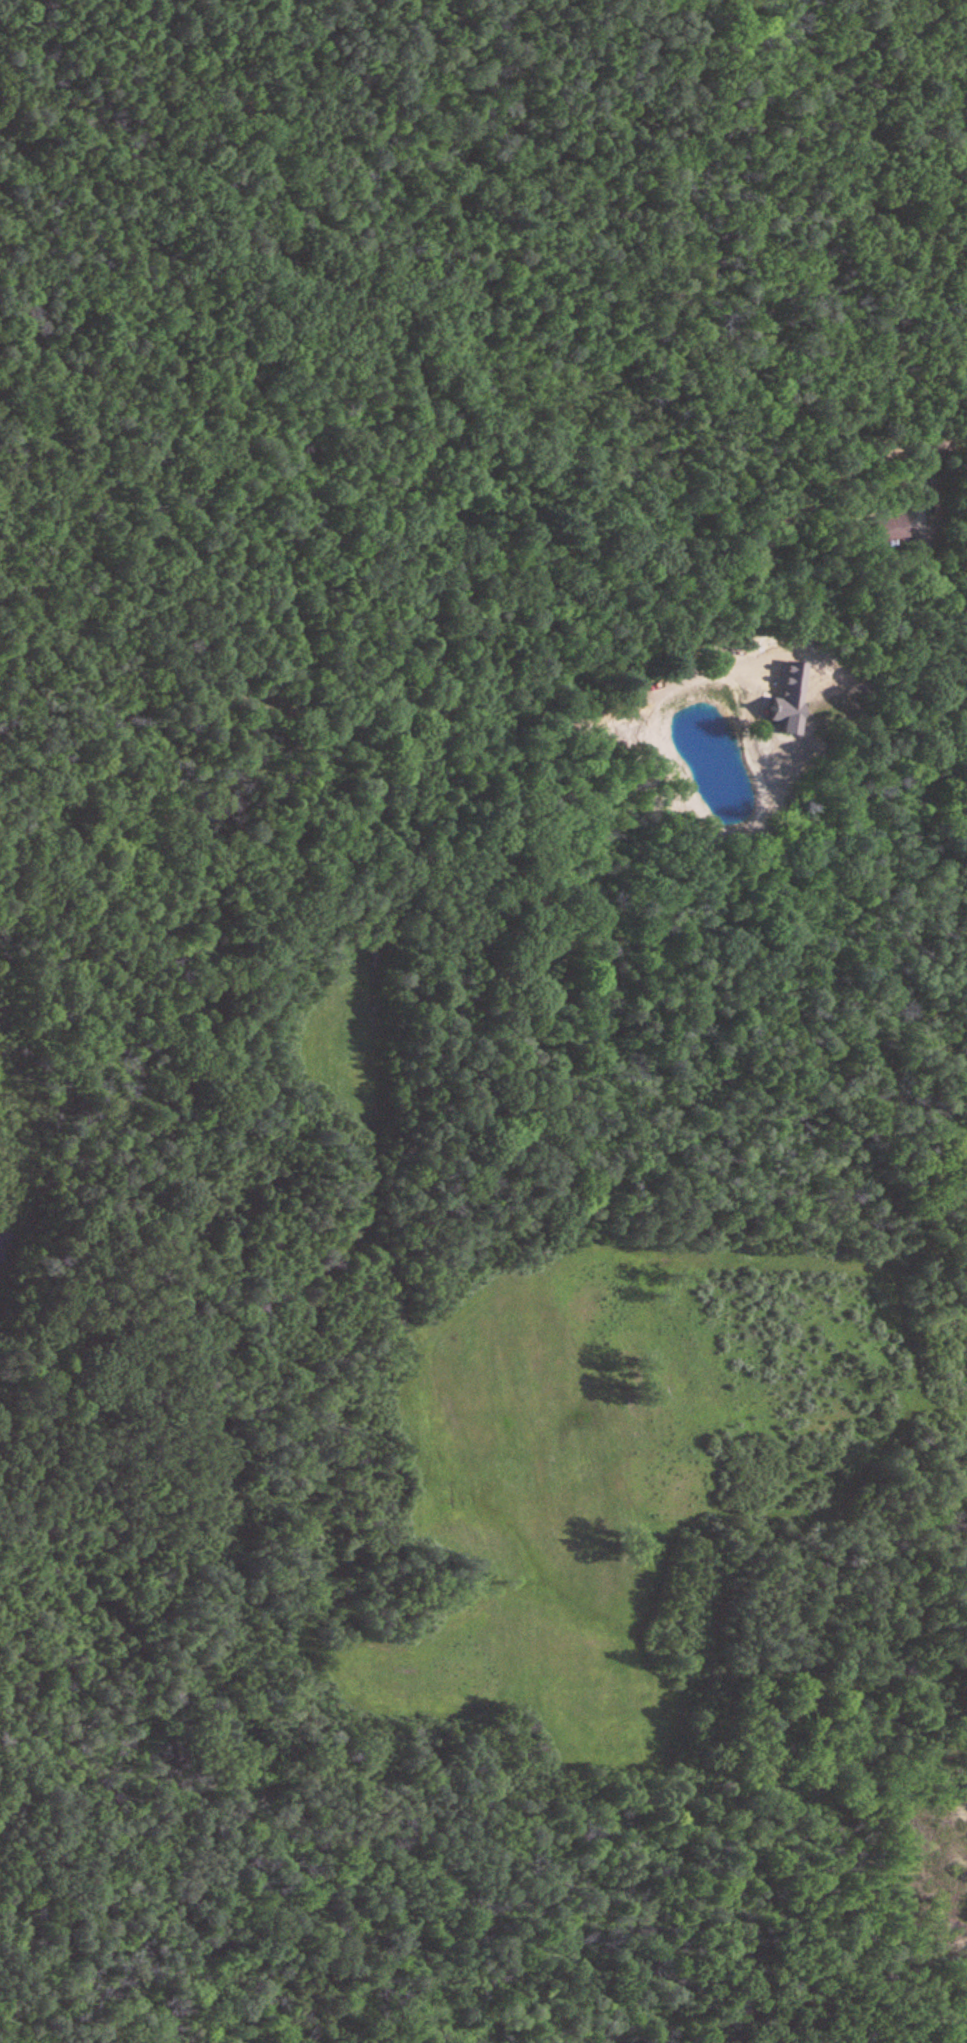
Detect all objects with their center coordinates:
building: (781, 710)

